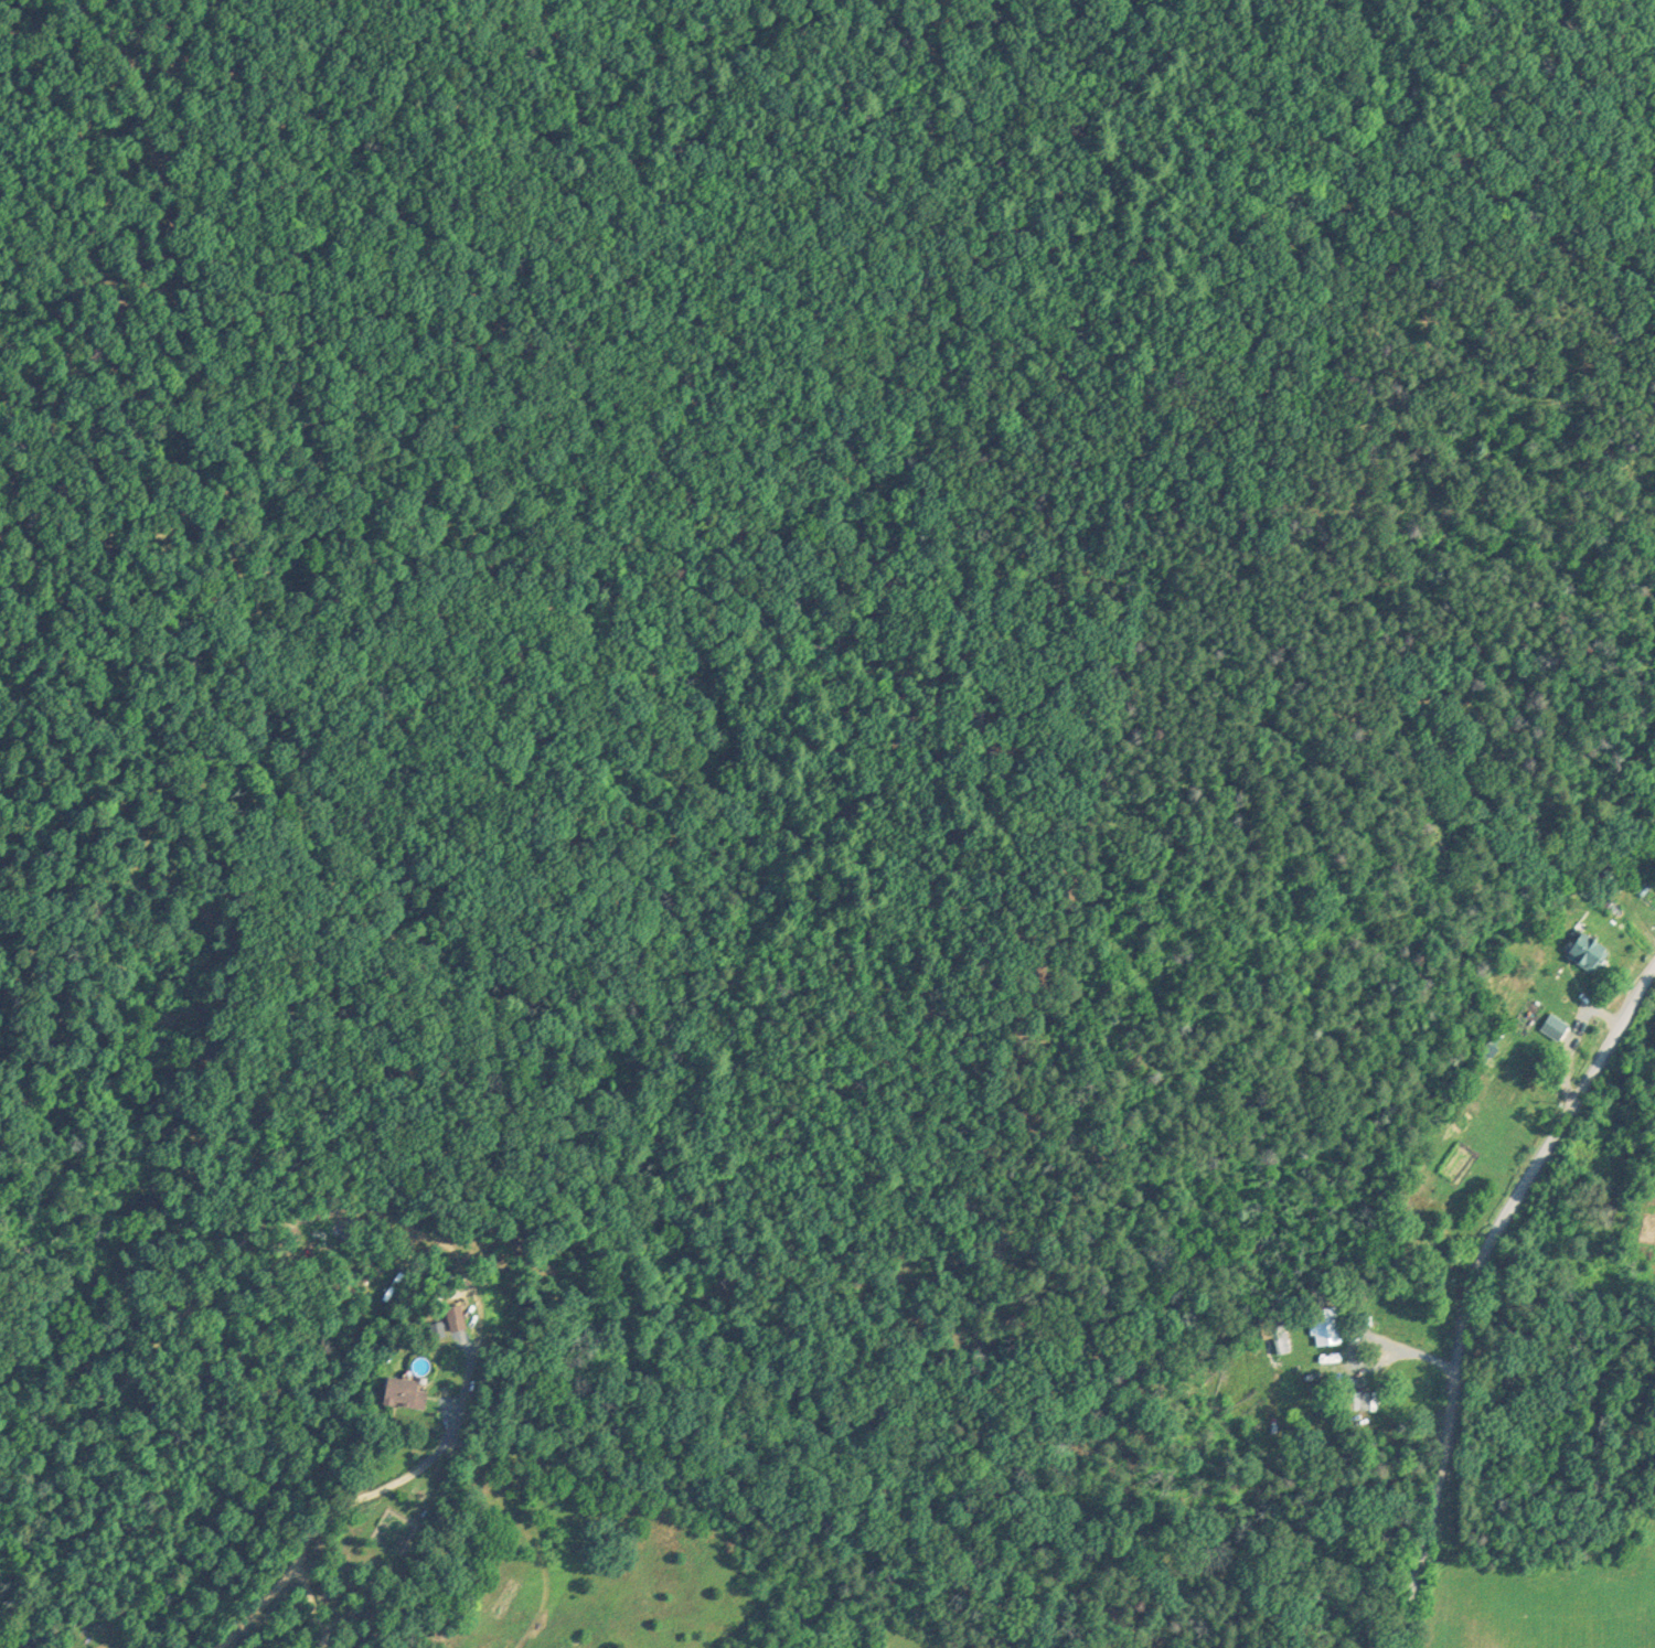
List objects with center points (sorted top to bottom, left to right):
building: (1583, 950)
building: (1552, 1026)
road: (1499, 1302)
building: (1323, 1324)
building: (1273, 1330)
building: (401, 1391)
building: (1357, 1399)
road: (346, 1506)
building: (24, 1646)
building: (324, 1647)

